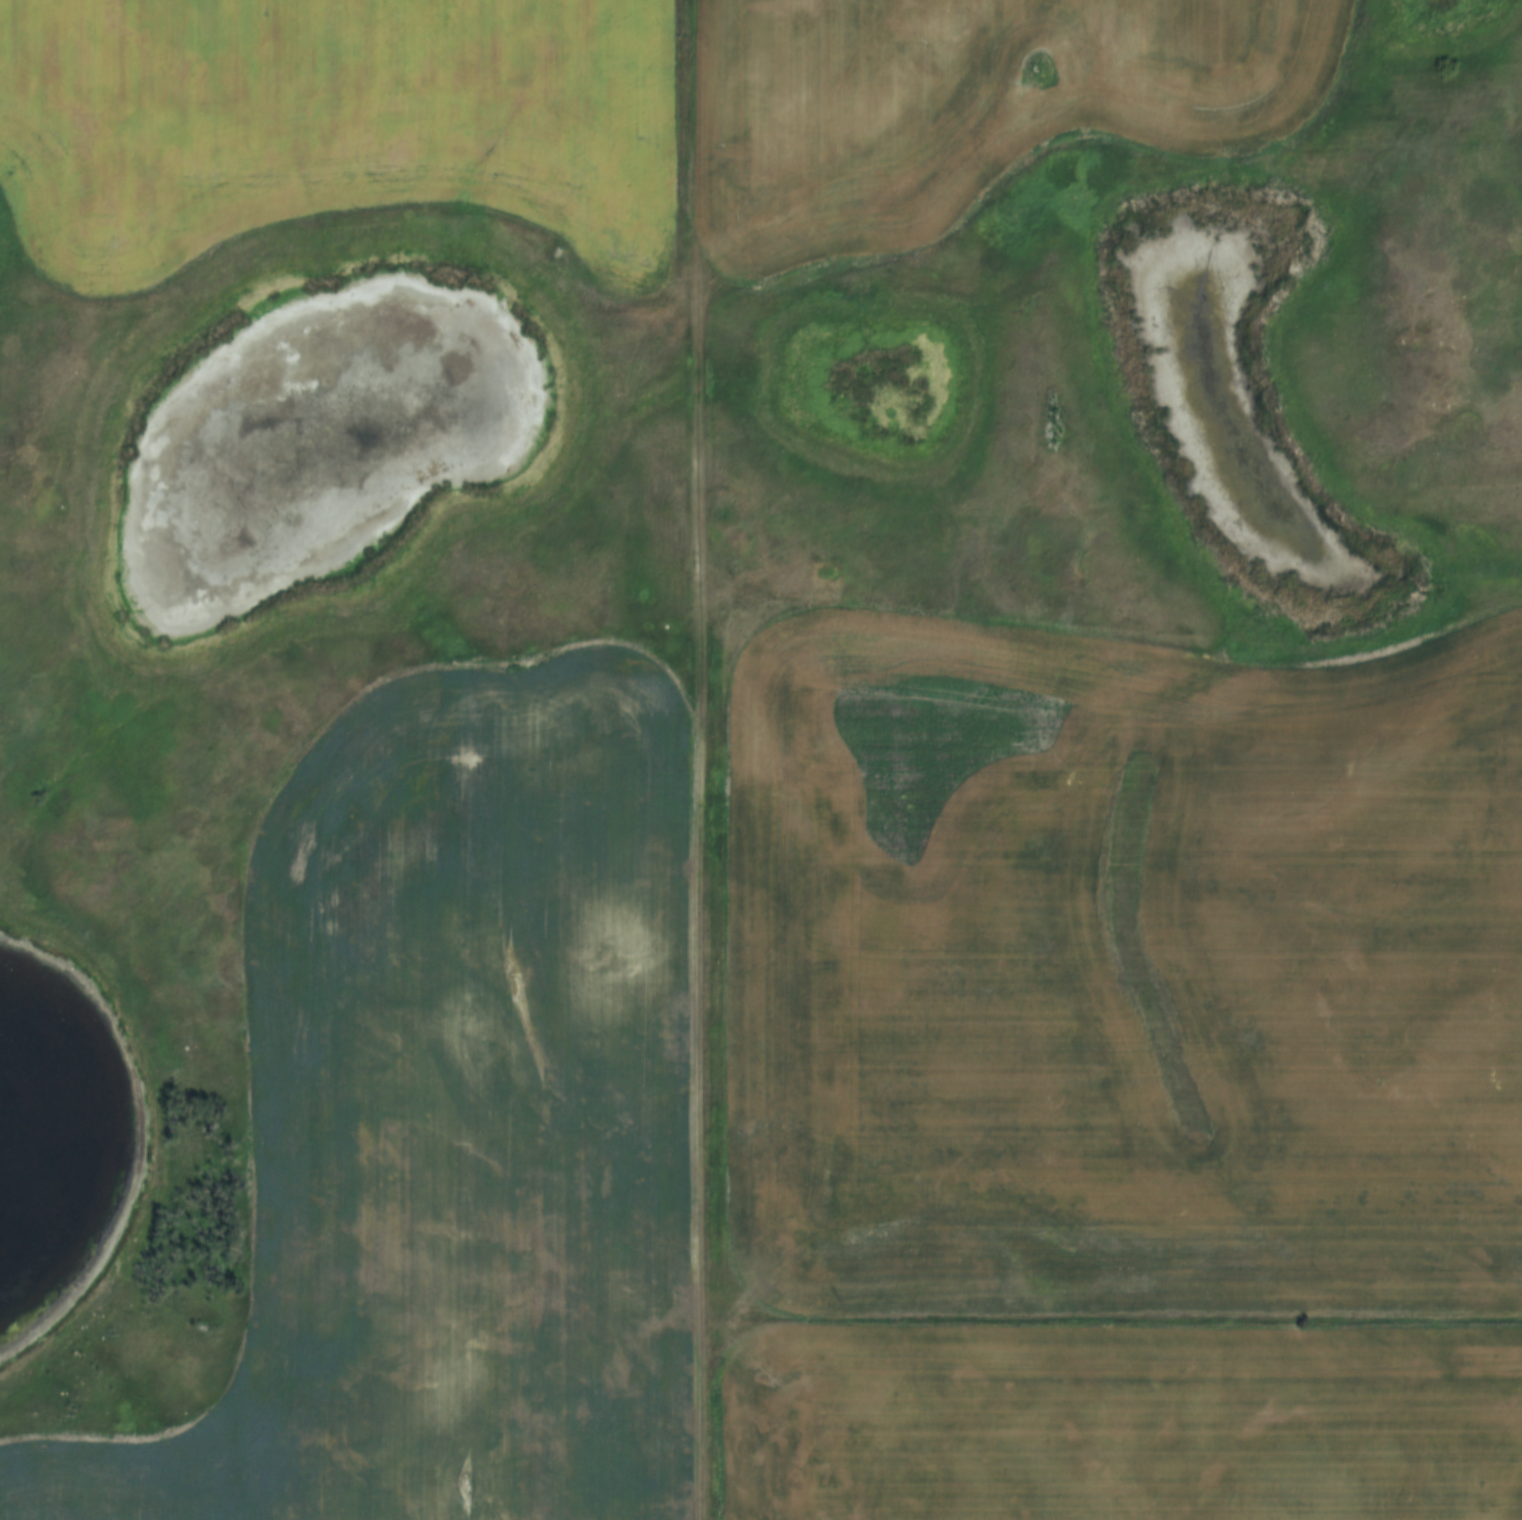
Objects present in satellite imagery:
road: (704, 759)

